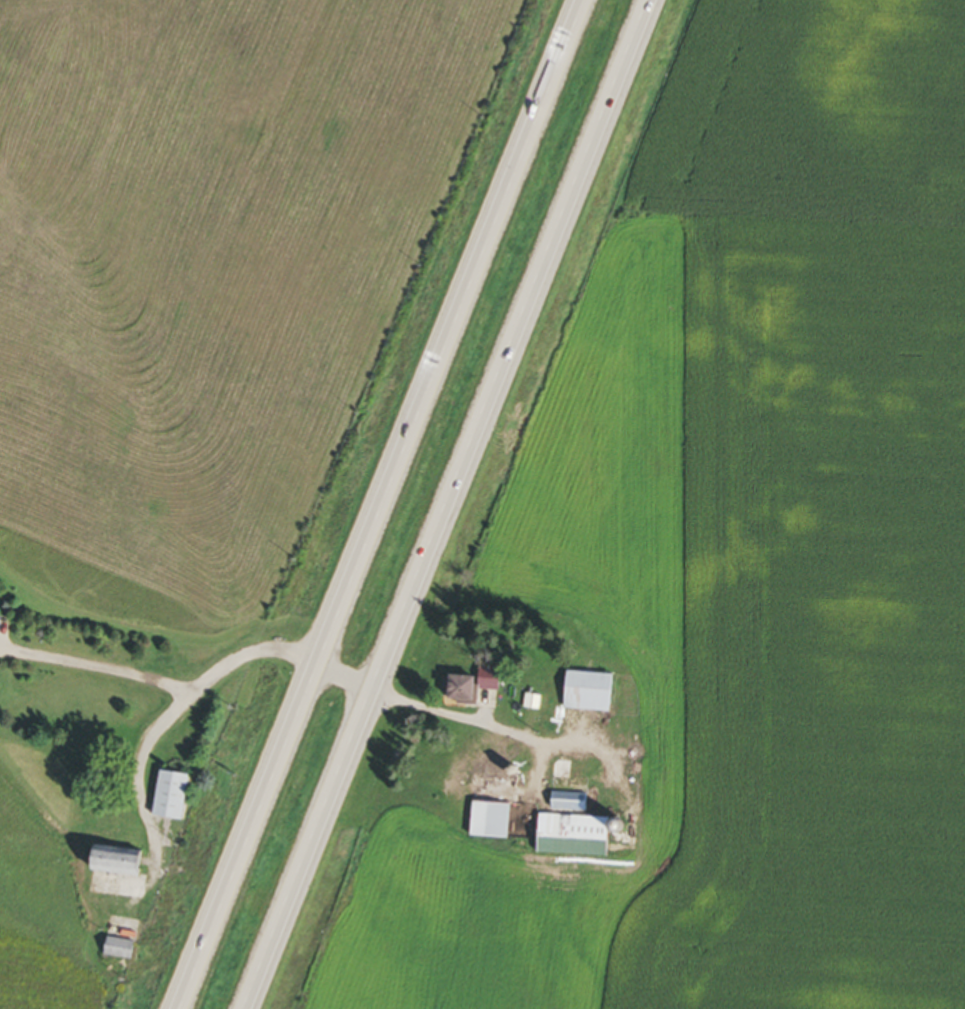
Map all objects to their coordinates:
road: (446, 504)
road: (374, 506)
road: (97, 667)
road: (341, 676)
building: (480, 687)
road: (186, 699)
building: (580, 699)
road: (460, 713)
building: (574, 785)
building: (175, 797)
building: (571, 804)
building: (498, 808)
building: (577, 837)
building: (627, 842)
building: (124, 865)
building: (121, 951)

